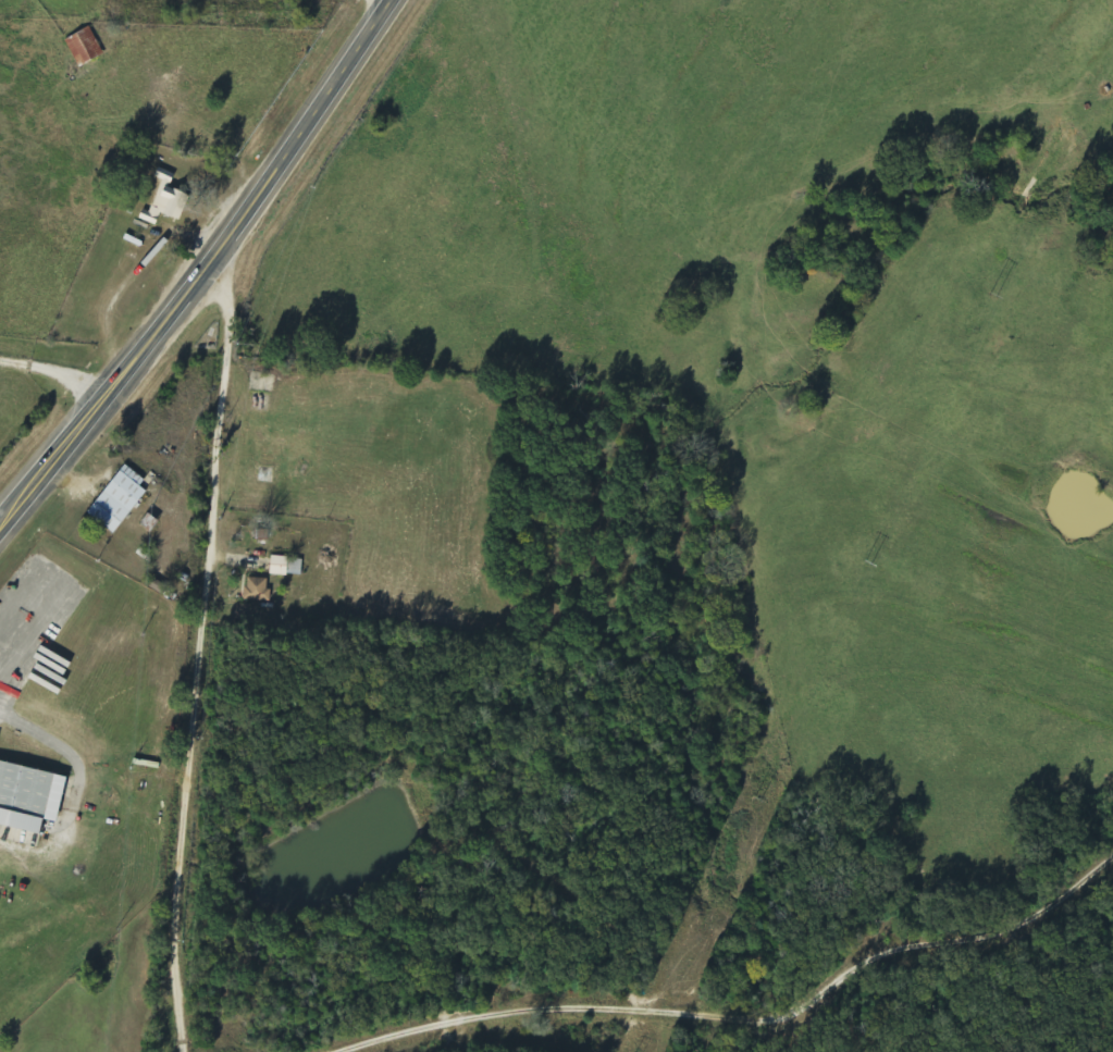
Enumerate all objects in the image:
building: (84, 47)
building: (163, 176)
road: (209, 272)
power tower: (993, 295)
building: (119, 500)
power tower: (867, 560)
building: (286, 567)
building: (258, 591)
road: (197, 659)
power tower: (756, 795)
building: (28, 797)
road: (746, 1018)

